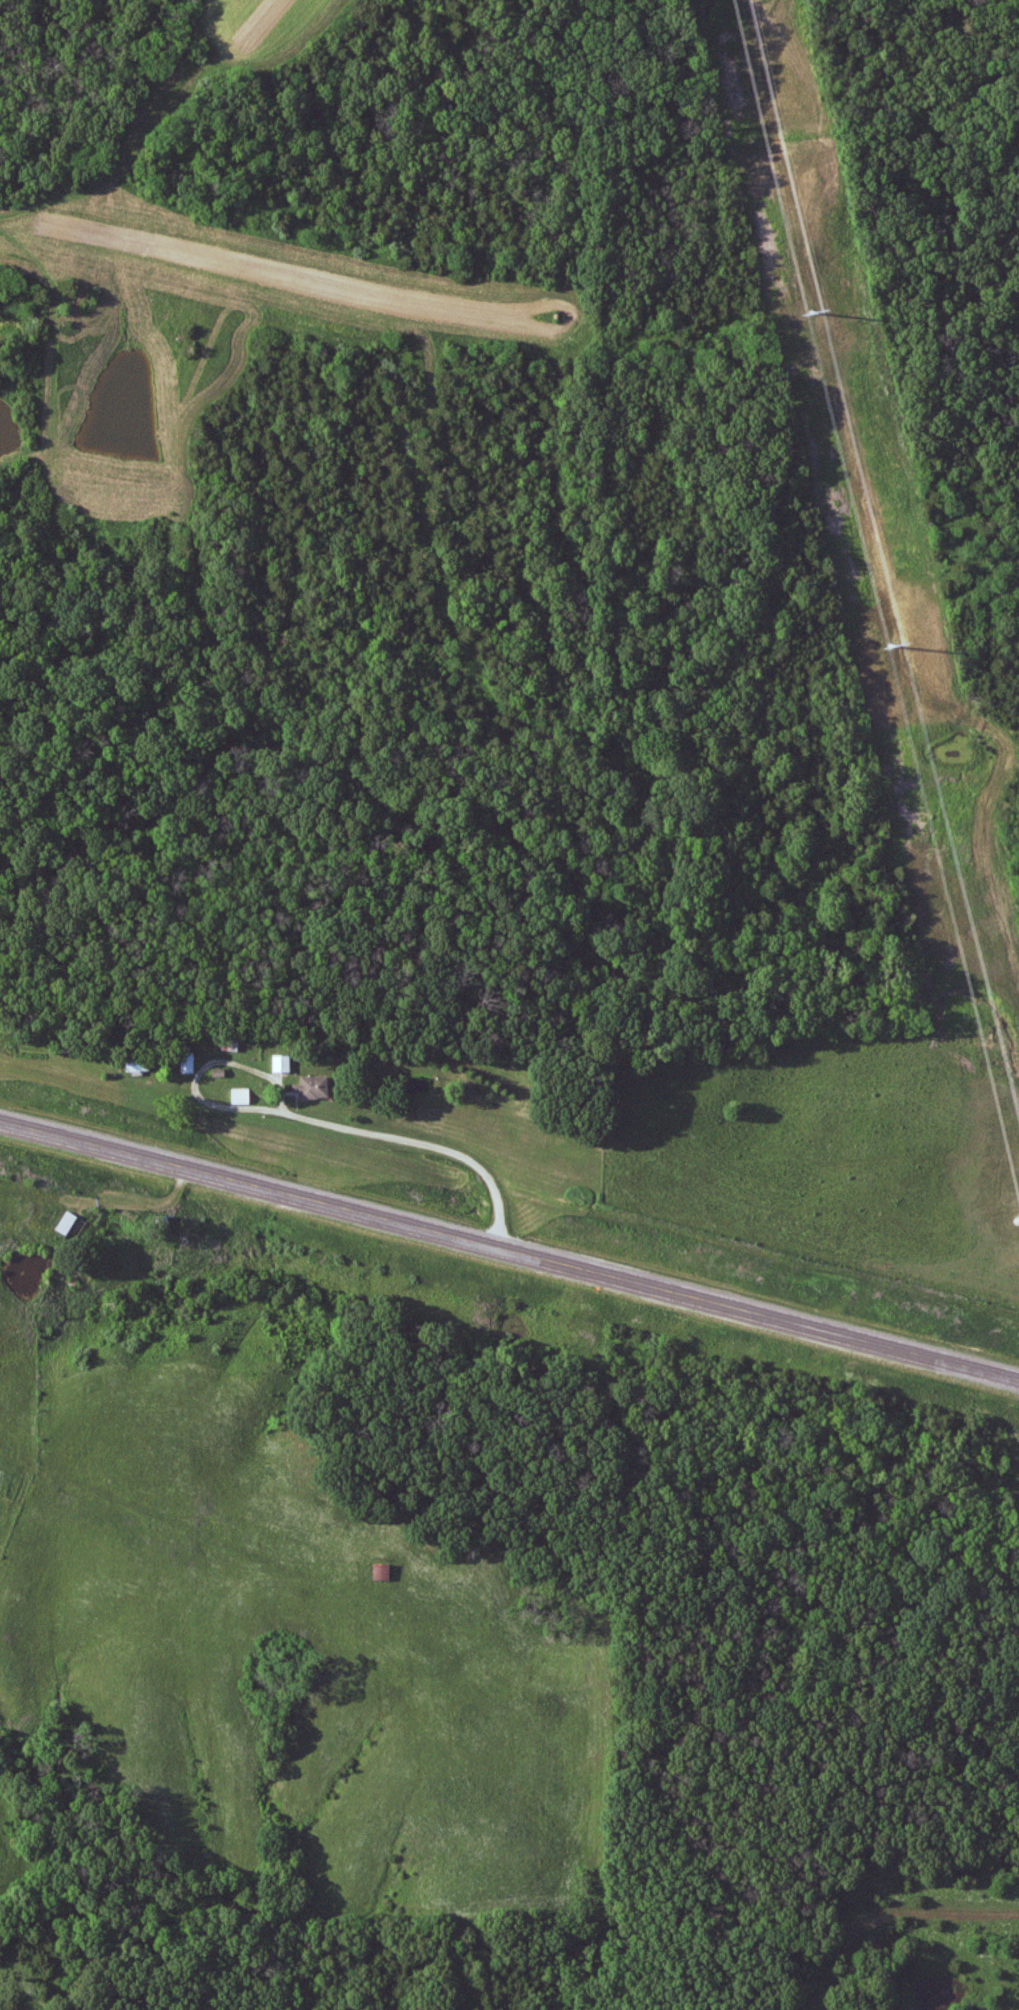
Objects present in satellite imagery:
power tower: (809, 308)
power tower: (892, 646)
road: (229, 1059)
building: (185, 1061)
building: (279, 1063)
building: (134, 1065)
building: (236, 1095)
road: (425, 1142)
road: (145, 1198)
road: (509, 1248)

